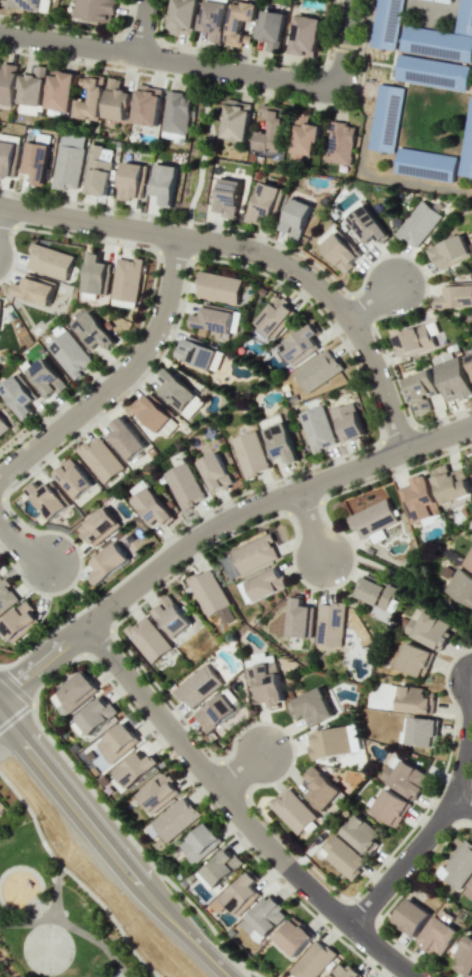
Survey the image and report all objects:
building: (445, 1)
building: (22, 4)
building: (95, 9)
building: (182, 17)
building: (464, 17)
building: (213, 19)
building: (239, 22)
building: (385, 23)
building: (271, 25)
road: (142, 27)
building: (305, 35)
building: (436, 43)
road: (206, 65)
street lamp: (138, 70)
building: (432, 72)
building: (7, 83)
building: (59, 90)
building: (31, 91)
building: (90, 99)
building: (116, 100)
building: (146, 105)
building: (175, 113)
building: (386, 117)
building: (235, 119)
building: (270, 128)
building: (304, 139)
building: (340, 143)
building: (466, 145)
road: (201, 151)
park: (200, 153)
building: (7, 155)
building: (35, 158)
building: (68, 162)
building: (425, 164)
building: (97, 170)
building: (131, 180)
building: (164, 183)
building: (227, 197)
building: (264, 202)
building: (295, 218)
street lamp: (177, 222)
building: (418, 224)
building: (366, 225)
street lamp: (268, 240)
building: (340, 251)
building: (449, 251)
road: (252, 253)
building: (50, 261)
building: (96, 274)
street lamp: (427, 279)
building: (126, 281)
street lamp: (154, 286)
building: (218, 287)
building: (34, 290)
building: (456, 295)
building: (0, 301)
road: (370, 302)
building: (275, 317)
building: (213, 318)
building: (93, 331)
street lamp: (340, 335)
building: (416, 339)
building: (299, 344)
building: (69, 354)
building: (198, 354)
building: (469, 360)
building: (317, 370)
road: (118, 375)
building: (44, 377)
building: (451, 377)
building: (420, 390)
street lamp: (398, 391)
building: (178, 392)
building: (18, 395)
street lamp: (116, 400)
building: (152, 412)
building: (347, 422)
building: (3, 427)
building: (317, 428)
building: (126, 439)
street lamp: (469, 441)
building: (279, 442)
building: (250, 454)
building: (100, 459)
street lamp: (390, 470)
building: (215, 471)
building: (73, 478)
building: (451, 485)
building: (183, 486)
building: (48, 498)
building: (419, 499)
building: (364, 500)
building: (151, 506)
building: (373, 520)
road: (310, 523)
road: (214, 524)
building: (99, 526)
road: (22, 543)
building: (254, 554)
building: (469, 562)
building: (108, 563)
street lamp: (356, 564)
street lamp: (167, 578)
building: (265, 584)
road: (414, 585)
building: (460, 587)
park: (417, 588)
building: (375, 591)
building: (208, 592)
building: (7, 596)
building: (226, 615)
building: (171, 616)
building: (299, 618)
building: (20, 622)
building: (331, 624)
building: (429, 630)
building: (149, 639)
building: (415, 659)
street lamp: (112, 682)
street lamp: (442, 683)
building: (267, 684)
building: (198, 686)
building: (414, 700)
building: (311, 707)
building: (216, 713)
building: (96, 716)
building: (422, 731)
building: (117, 742)
building: (329, 743)
road: (466, 751)
building: (136, 769)
road: (239, 770)
building: (405, 779)
building: (320, 788)
building: (159, 793)
road: (463, 802)
building: (391, 807)
street lamp: (215, 808)
building: (293, 810)
road: (238, 814)
building: (176, 818)
building: (361, 834)
building: (201, 843)
street lamp: (58, 844)
road: (115, 848)
street lamp: (297, 855)
building: (343, 857)
road: (402, 862)
building: (458, 866)
building: (222, 867)
building: (469, 890)
road: (55, 891)
building: (242, 894)
park: (57, 911)
building: (411, 916)
building: (264, 917)
road: (26, 922)
street lamp: (125, 926)
building: (439, 933)
building: (294, 936)
road: (97, 940)
street lamp: (351, 944)
park: (47, 948)
building: (464, 957)
building: (313, 960)
road: (6, 963)
building: (345, 972)
street lamp: (434, 973)
road: (156, 976)

